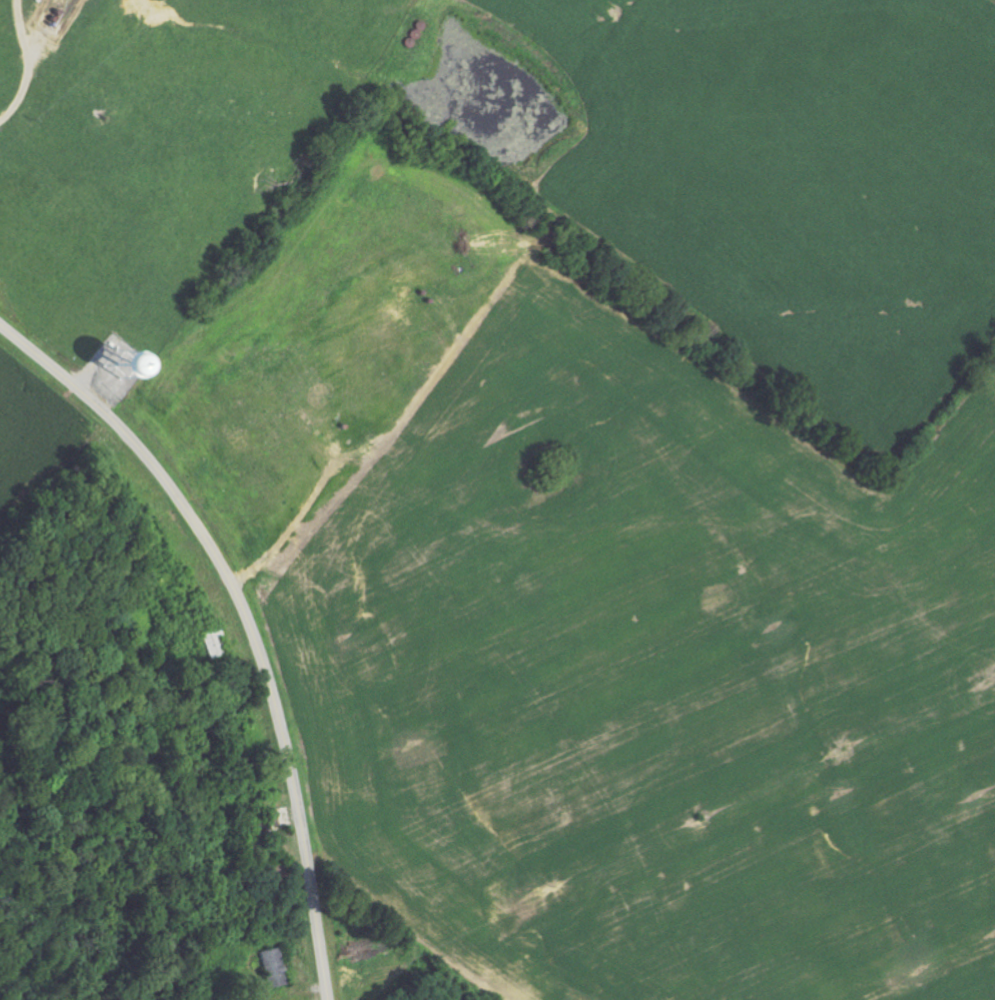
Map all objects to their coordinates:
road: (17, 32)
road: (245, 620)
building: (270, 967)

